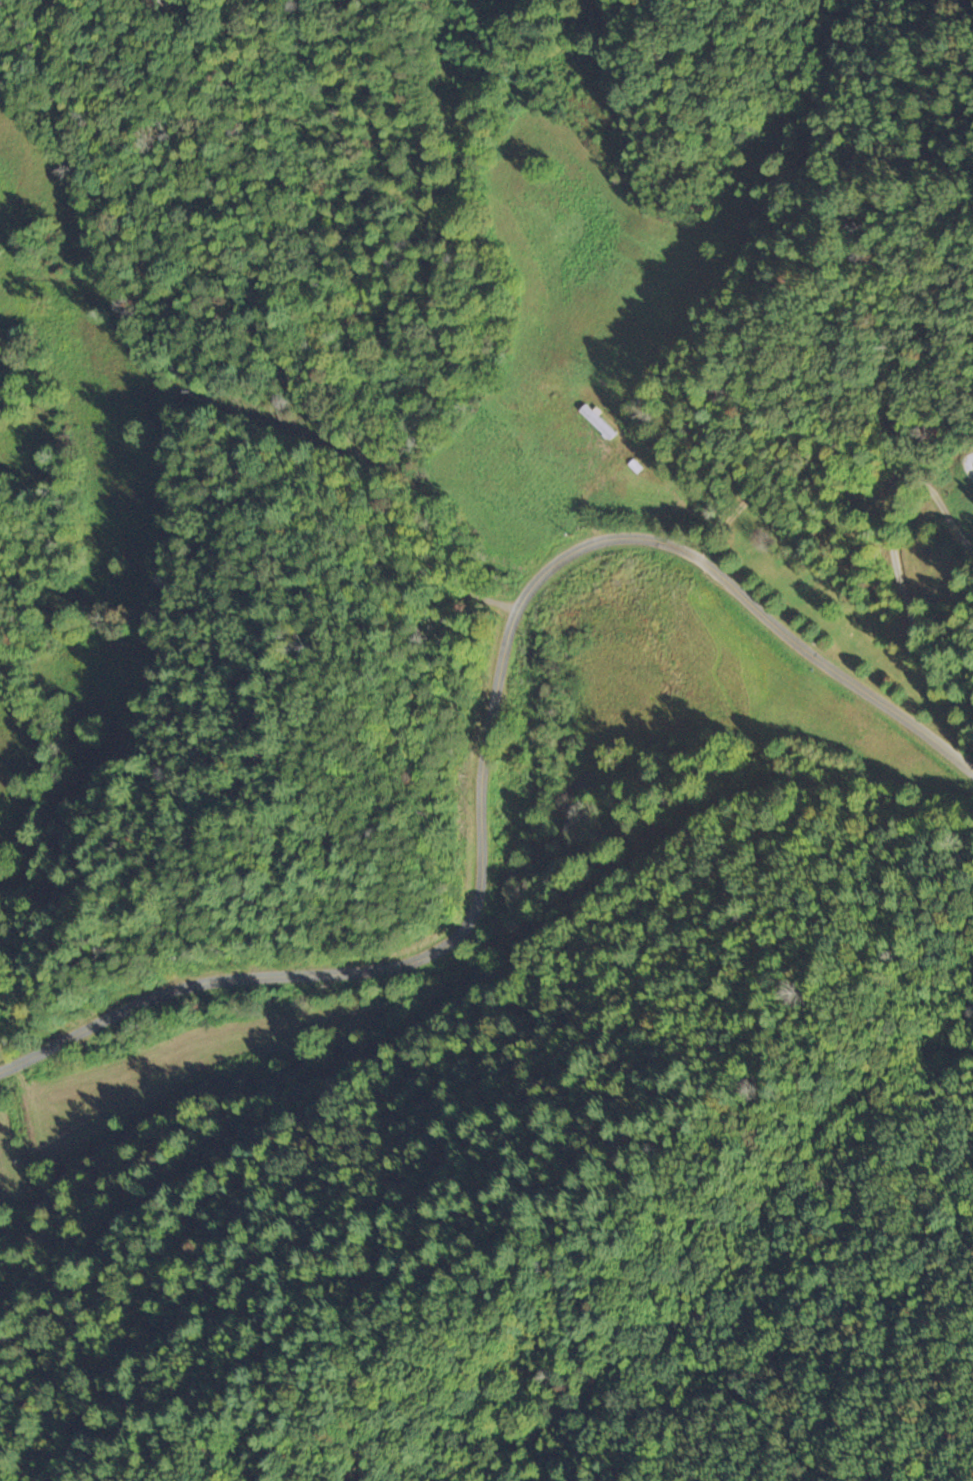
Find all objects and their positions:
road: (484, 734)

